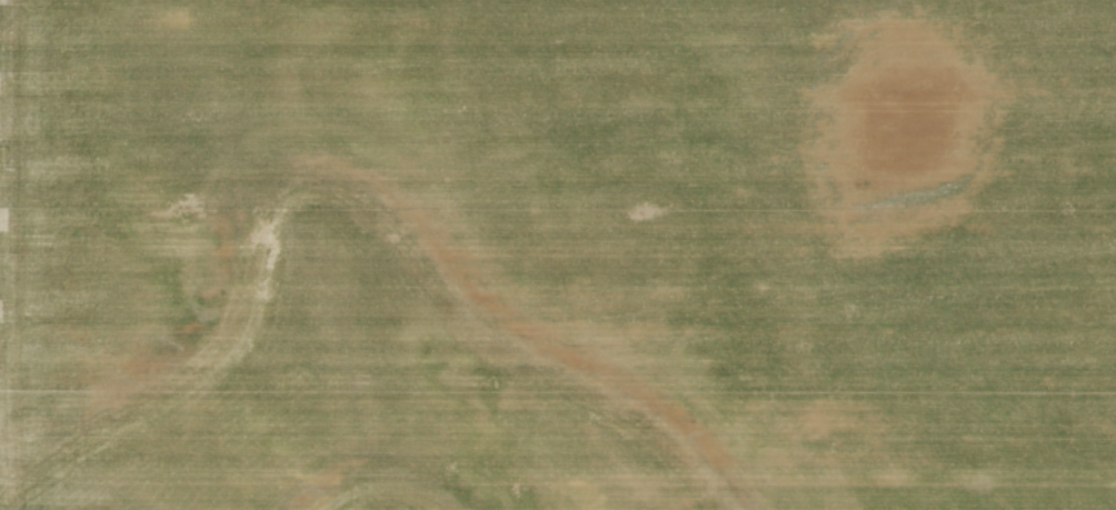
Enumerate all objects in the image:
crop: (558, 254)

